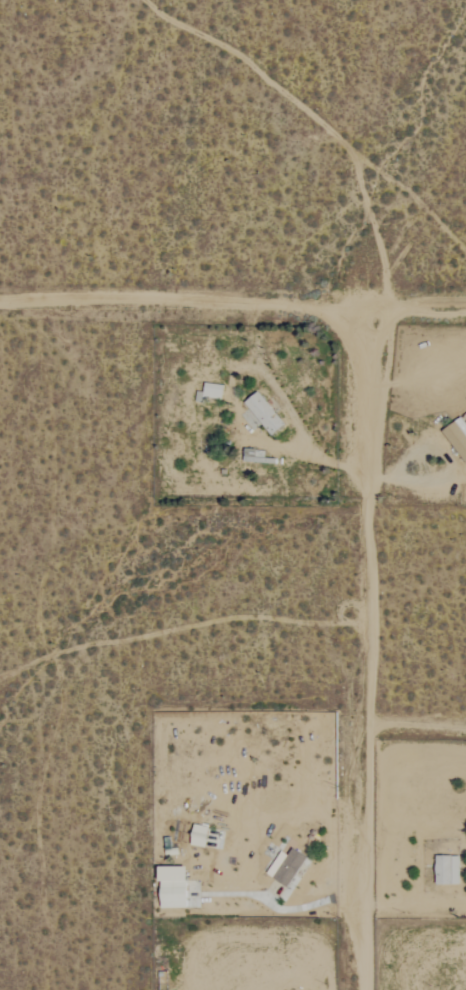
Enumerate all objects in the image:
road: (232, 309)
road: (231, 393)
building: (262, 413)
road: (363, 652)
building: (196, 836)
building: (284, 867)
building: (445, 870)

